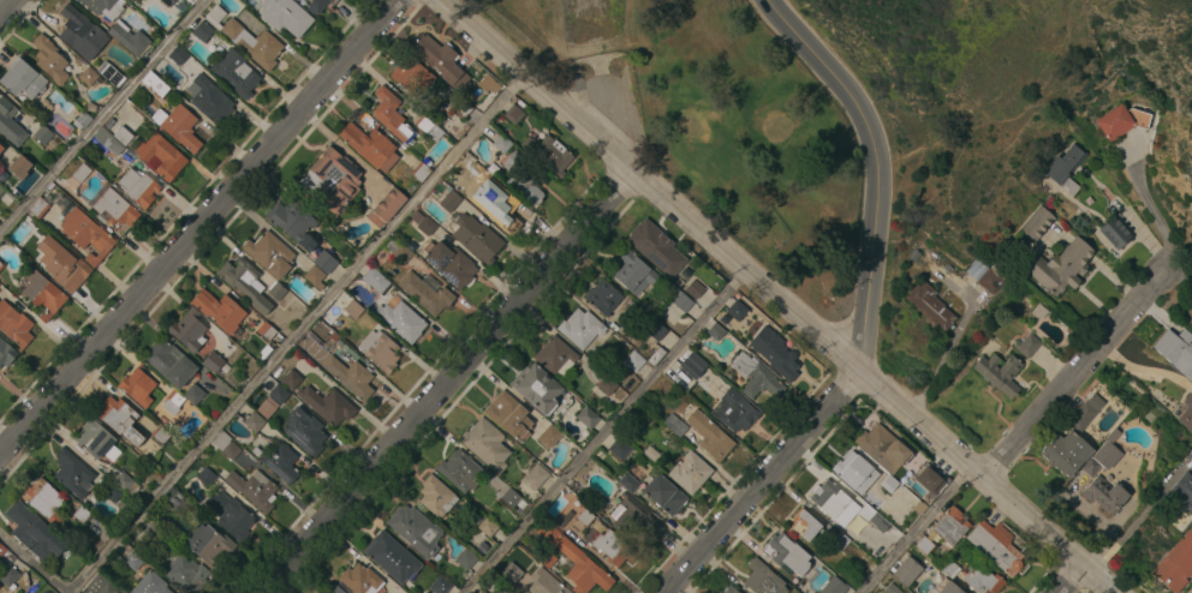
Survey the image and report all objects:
building: (130, 0)
building: (167, 2)
building: (315, 5)
building: (105, 7)
road: (7, 8)
building: (215, 16)
building: (285, 16)
building: (82, 30)
building: (202, 30)
building: (129, 37)
building: (254, 43)
building: (177, 55)
building: (49, 59)
building: (441, 61)
building: (111, 73)
building: (234, 73)
building: (88, 76)
building: (411, 76)
building: (23, 79)
building: (155, 83)
building: (488, 83)
building: (210, 100)
building: (461, 108)
building: (513, 113)
road: (101, 114)
building: (391, 114)
building: (83, 118)
building: (1122, 120)
building: (10, 124)
building: (178, 125)
building: (428, 127)
building: (42, 133)
building: (123, 136)
building: (108, 140)
building: (502, 140)
building: (370, 145)
building: (1, 148)
building: (549, 154)
building: (161, 155)
building: (19, 166)
road: (878, 167)
building: (1066, 167)
building: (476, 169)
building: (81, 172)
building: (421, 172)
building: (523, 178)
building: (332, 179)
building: (138, 187)
building: (1, 190)
building: (449, 200)
building: (386, 205)
building: (38, 206)
building: (115, 208)
road: (1152, 209)
building: (502, 211)
building: (291, 220)
building: (1037, 223)
building: (427, 226)
road: (199, 227)
building: (1114, 232)
building: (87, 234)
building: (476, 238)
building: (23, 242)
building: (656, 247)
building: (399, 250)
building: (269, 253)
building: (324, 260)
building: (449, 263)
building: (1, 265)
building: (64, 265)
building: (1060, 266)
road: (1179, 269)
building: (633, 272)
building: (314, 276)
building: (990, 276)
building: (375, 280)
building: (245, 282)
building: (695, 288)
building: (276, 290)
building: (427, 292)
building: (42, 293)
road: (774, 295)
building: (603, 296)
building: (680, 300)
building: (929, 306)
building: (353, 309)
building: (737, 309)
building: (219, 310)
building: (401, 321)
building: (14, 324)
building: (580, 328)
building: (655, 329)
building: (189, 330)
building: (266, 330)
building: (716, 330)
road: (296, 336)
building: (1026, 345)
building: (380, 349)
building: (1176, 351)
building: (6, 353)
building: (775, 353)
building: (554, 354)
building: (633, 360)
building: (169, 363)
building: (215, 363)
building: (692, 365)
road: (1077, 371)
building: (999, 372)
building: (350, 376)
building: (756, 376)
building: (291, 378)
road: (446, 383)
building: (607, 384)
building: (137, 387)
building: (536, 388)
building: (193, 394)
building: (279, 394)
building: (172, 401)
building: (327, 405)
building: (266, 408)
building: (734, 411)
building: (1085, 412)
building: (1184, 412)
building: (508, 415)
building: (586, 417)
building: (119, 419)
building: (254, 421)
building: (674, 424)
building: (304, 431)
road: (606, 432)
building: (160, 435)
building: (548, 436)
building: (710, 436)
building: (94, 438)
building: (225, 444)
building: (487, 444)
building: (619, 448)
building: (882, 448)
building: (1107, 450)
building: (1069, 454)
building: (280, 462)
building: (459, 471)
building: (690, 472)
building: (856, 472)
building: (73, 473)
building: (535, 477)
building: (926, 478)
building: (125, 483)
building: (628, 483)
road: (765, 483)
building: (889, 483)
building: (254, 489)
building: (112, 492)
building: (1181, 492)
building: (663, 493)
building: (1104, 493)
building: (436, 496)
building: (509, 497)
building: (828, 498)
building: (43, 501)
building: (872, 501)
building: (177, 503)
building: (865, 511)
building: (232, 516)
building: (585, 516)
building: (633, 516)
building: (804, 526)
building: (950, 526)
building: (488, 527)
road: (1115, 527)
road: (917, 528)
building: (28, 529)
building: (415, 529)
building: (155, 532)
building: (840, 540)
building: (923, 544)
building: (211, 546)
building: (996, 546)
building: (614, 547)
building: (2, 550)
building: (788, 555)
building: (392, 557)
building: (465, 557)
building: (544, 557)
building: (133, 559)
building: (576, 562)
road: (34, 563)
building: (1175, 563)
building: (949, 568)
building: (907, 570)
building: (509, 571)
building: (185, 573)
building: (8, 576)
building: (360, 579)
building: (763, 579)
building: (983, 580)
building: (150, 583)
building: (544, 583)
building: (440, 585)
building: (99, 586)
building: (834, 586)
building: (946, 587)
building: (333, 588)
building: (892, 588)
building: (731, 589)
building: (0, 591)
building: (316, 592)
building: (482, 592)
building: (720, 592)
road: (1191, 592)

